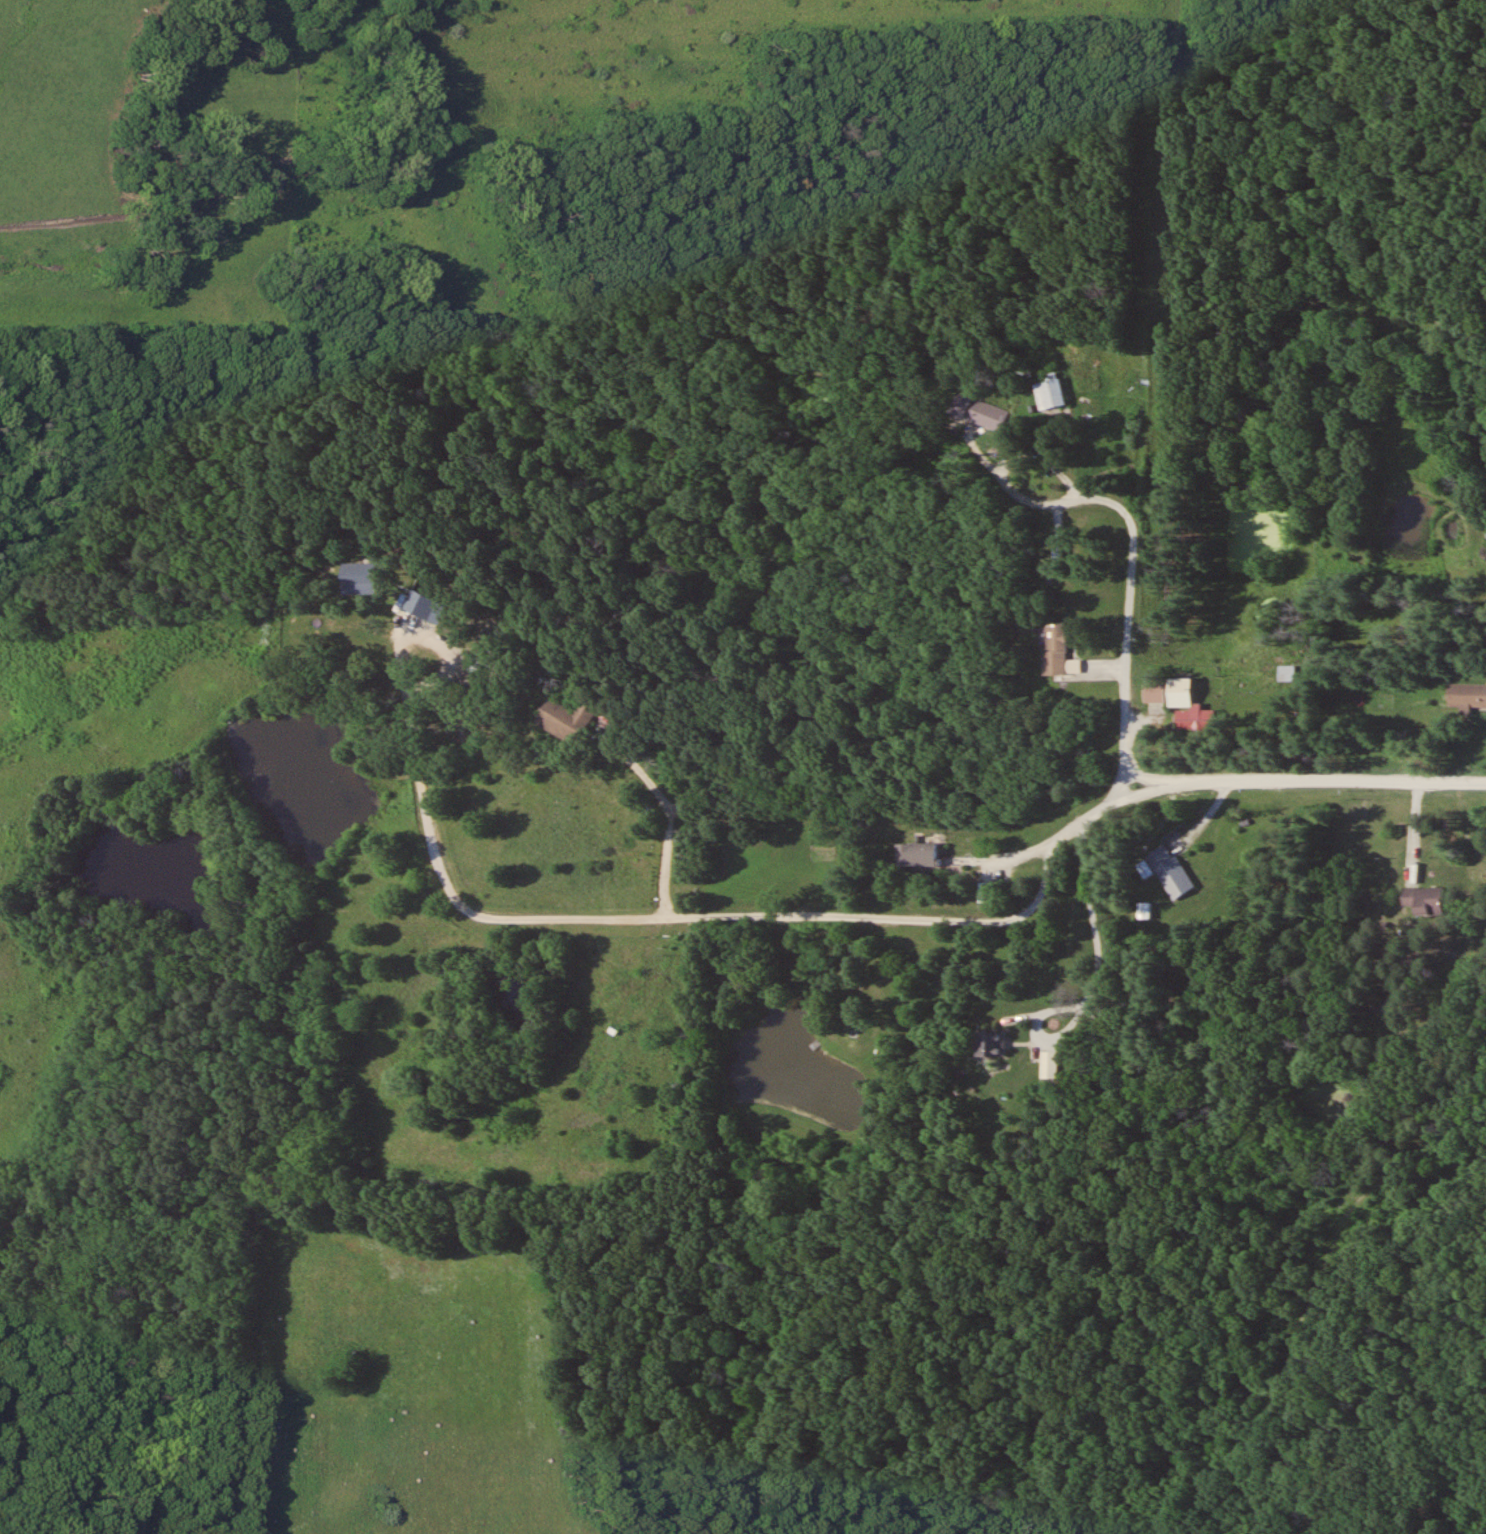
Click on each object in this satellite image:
building: (1048, 392)
building: (979, 411)
building: (424, 601)
building: (1055, 648)
road: (1130, 651)
building: (1285, 672)
building: (1178, 692)
building: (1153, 693)
building: (1466, 695)
building: (566, 717)
building: (1195, 719)
building: (916, 855)
building: (1170, 871)
building: (985, 891)
building: (1424, 899)
road: (947, 918)
building: (990, 1044)
building: (1051, 1063)

